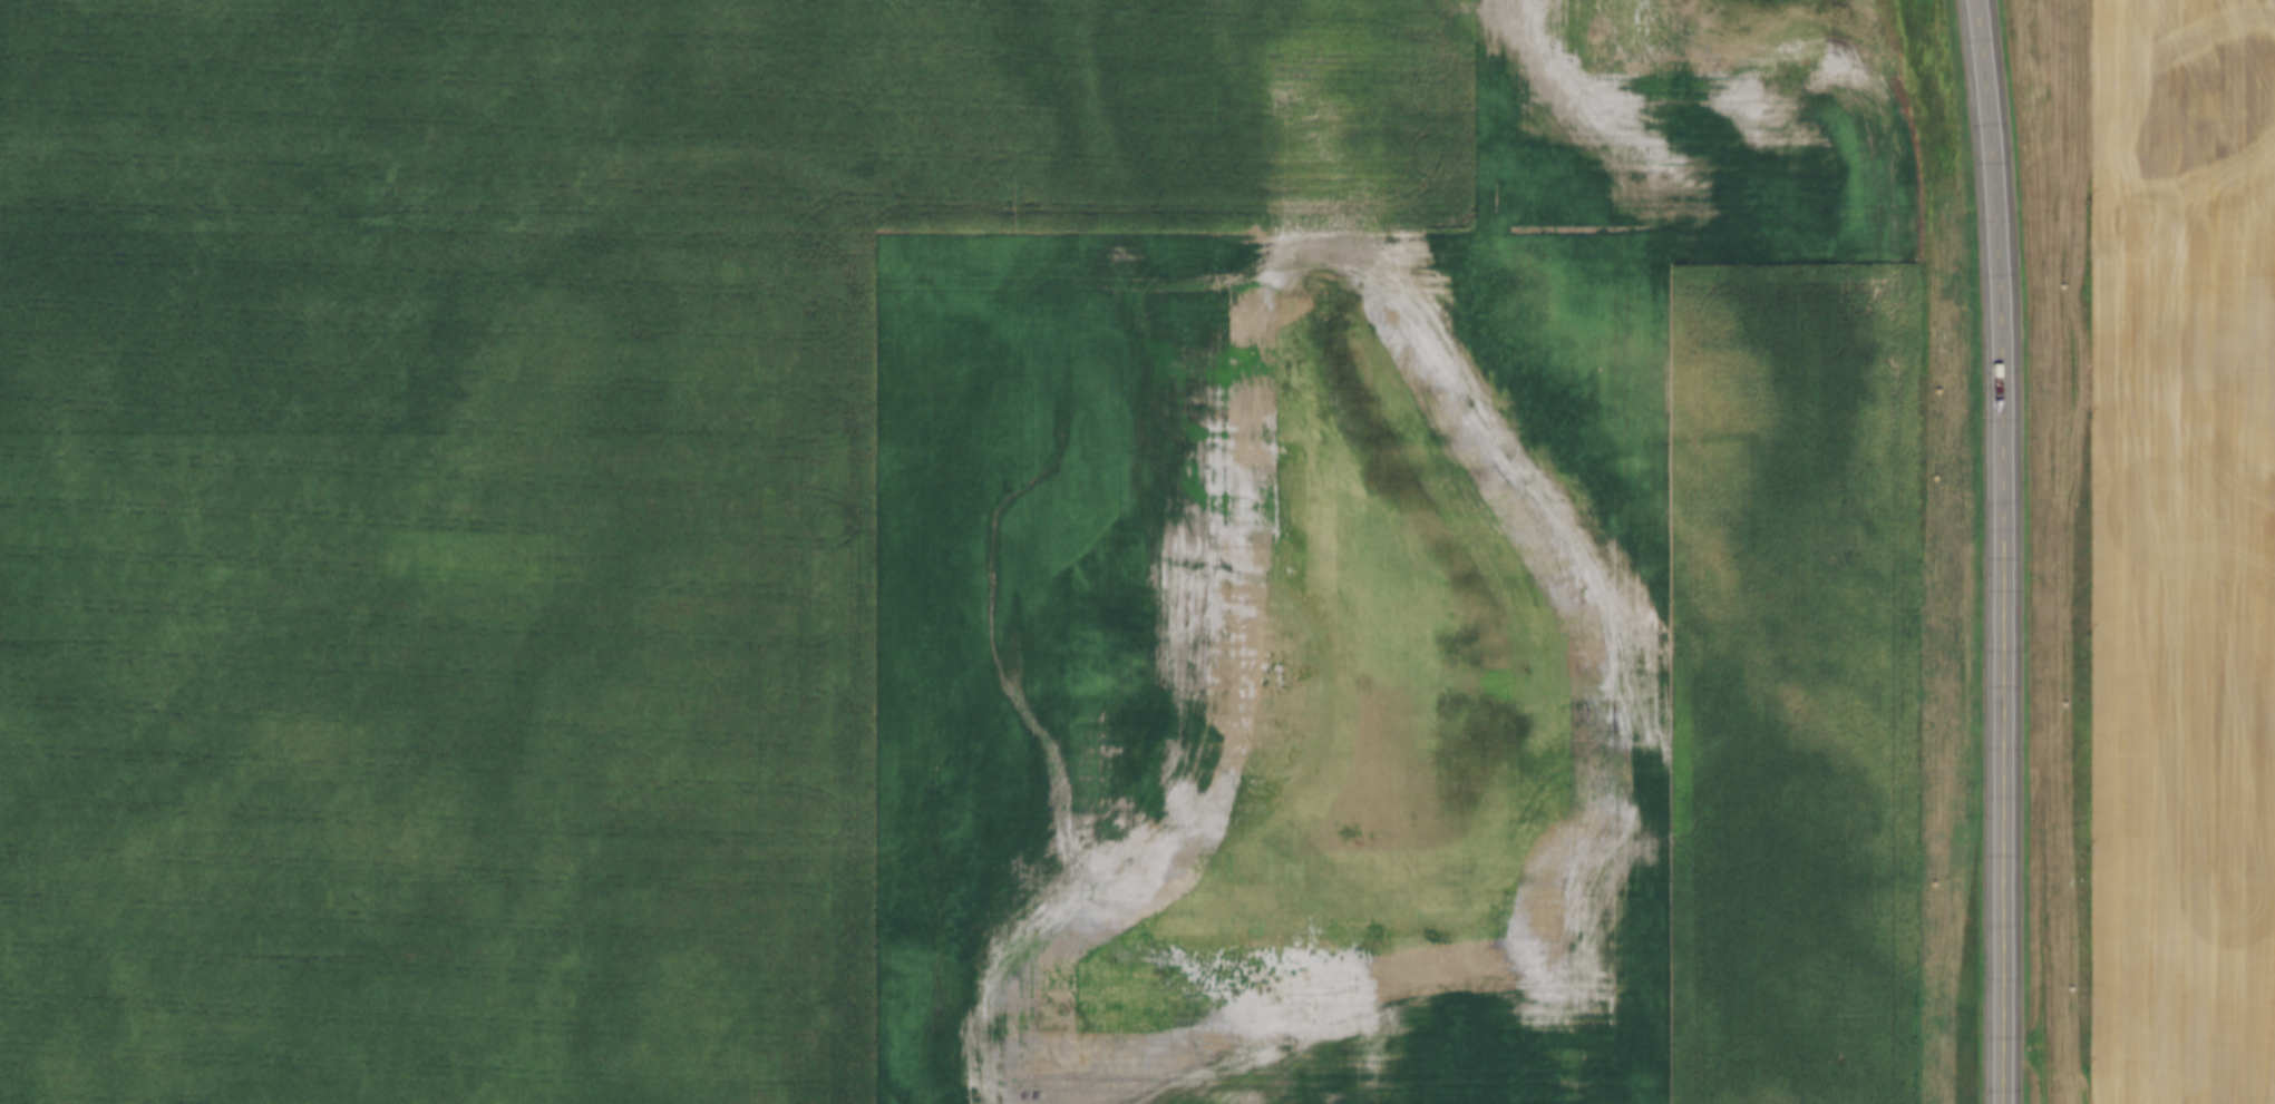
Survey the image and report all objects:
road: (2006, 551)

